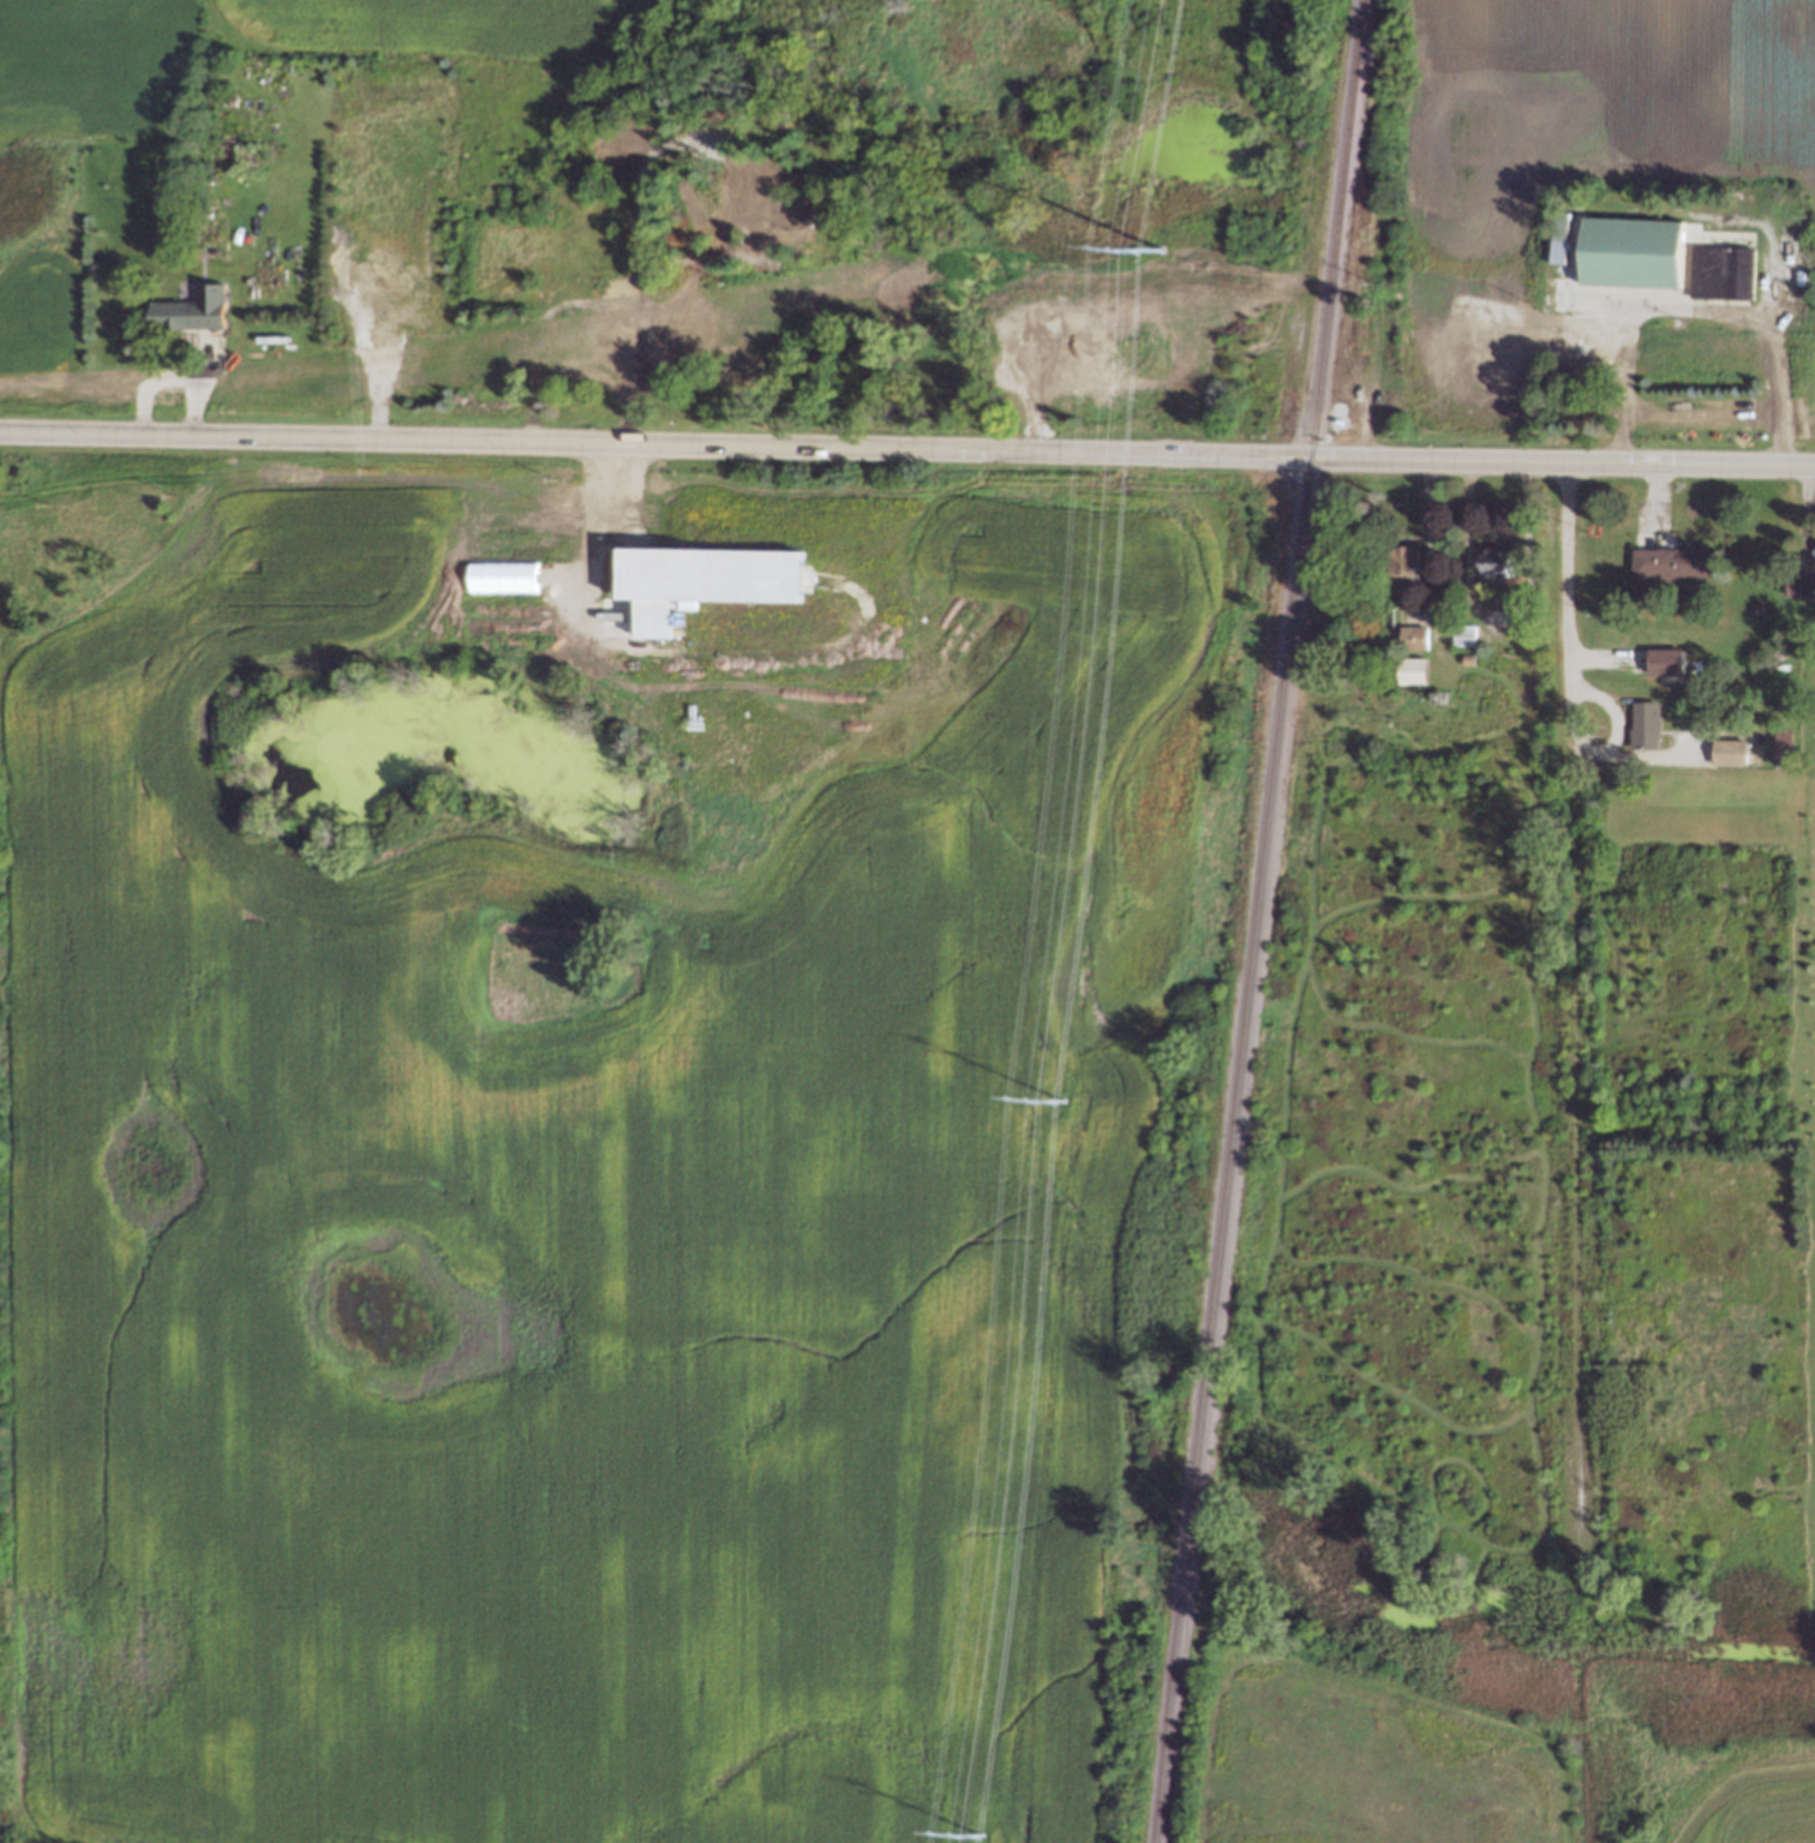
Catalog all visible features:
building: (606, 142)
building: (706, 151)
road: (646, 154)
crop: (1541, 179)
building: (750, 196)
railway: (1325, 228)
power tower: (1163, 237)
building: (1558, 238)
building: (1631, 253)
building: (357, 259)
road: (676, 259)
building: (1723, 271)
building: (613, 283)
building: (1557, 299)
road: (607, 301)
road: (1694, 307)
building: (191, 310)
building: (393, 315)
building: (1049, 325)
building: (585, 335)
building: (1582, 348)
road: (577, 365)
crop: (1814, 409)
road: (907, 449)
building: (1814, 547)
building: (1665, 556)
building: (1493, 560)
building: (1400, 563)
building: (503, 576)
building: (706, 581)
building: (1807, 584)
road: (1563, 596)
building: (1458, 628)
building: (1407, 630)
building: (1463, 635)
building: (1464, 660)
building: (1407, 662)
building: (1663, 662)
building: (1780, 700)
building: (1639, 720)
building: (1780, 743)
building: (1726, 753)
power tower: (1064, 1103)
railway: (1223, 1149)
power tower: (978, 1837)

